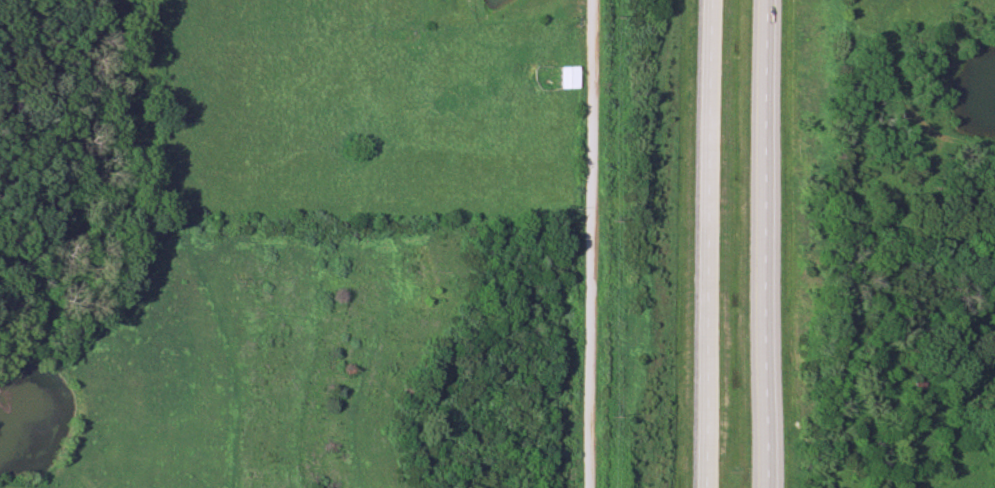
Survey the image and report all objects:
road: (593, 244)
road: (715, 244)
road: (769, 244)
building: (915, 392)

